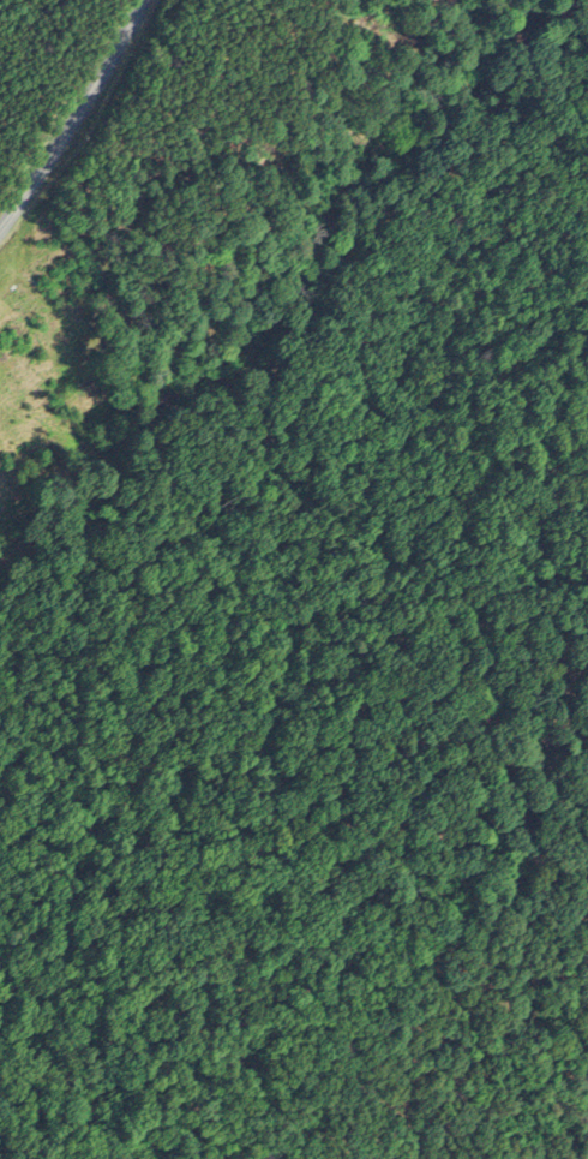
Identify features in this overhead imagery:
road: (66, 107)

